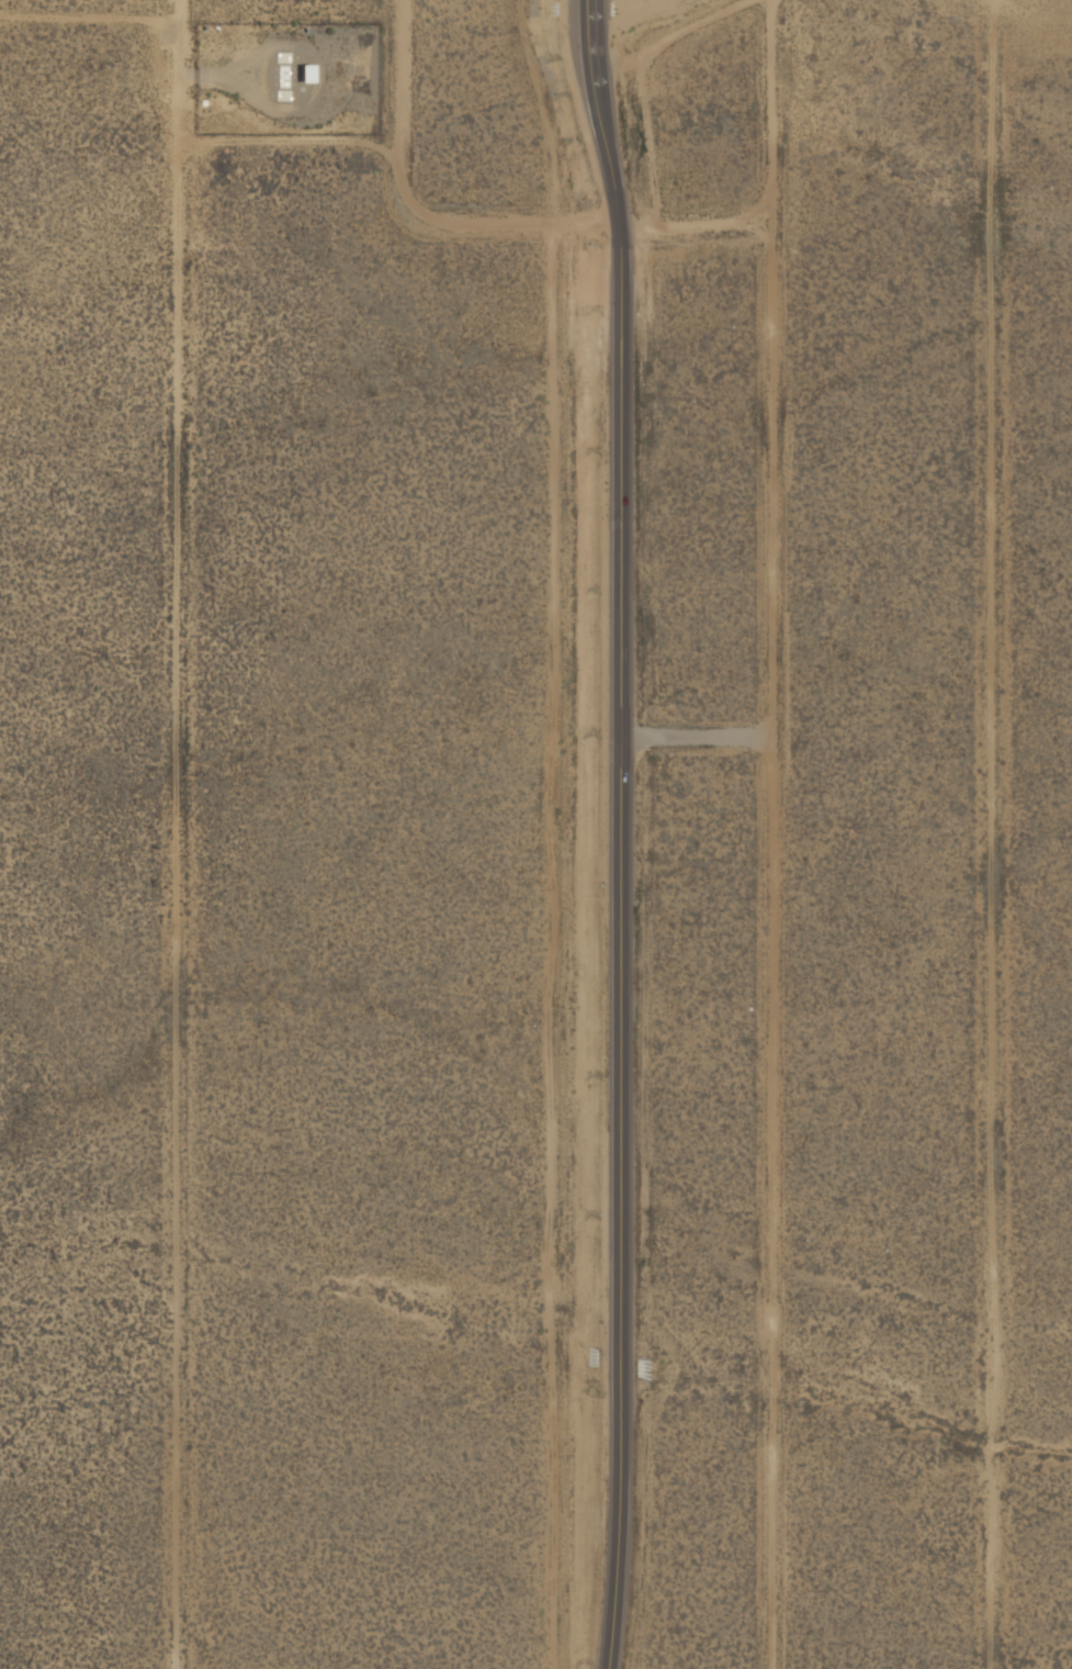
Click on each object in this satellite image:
road: (484, 220)
road: (697, 735)
road: (622, 832)
road: (770, 832)
road: (1004, 834)

